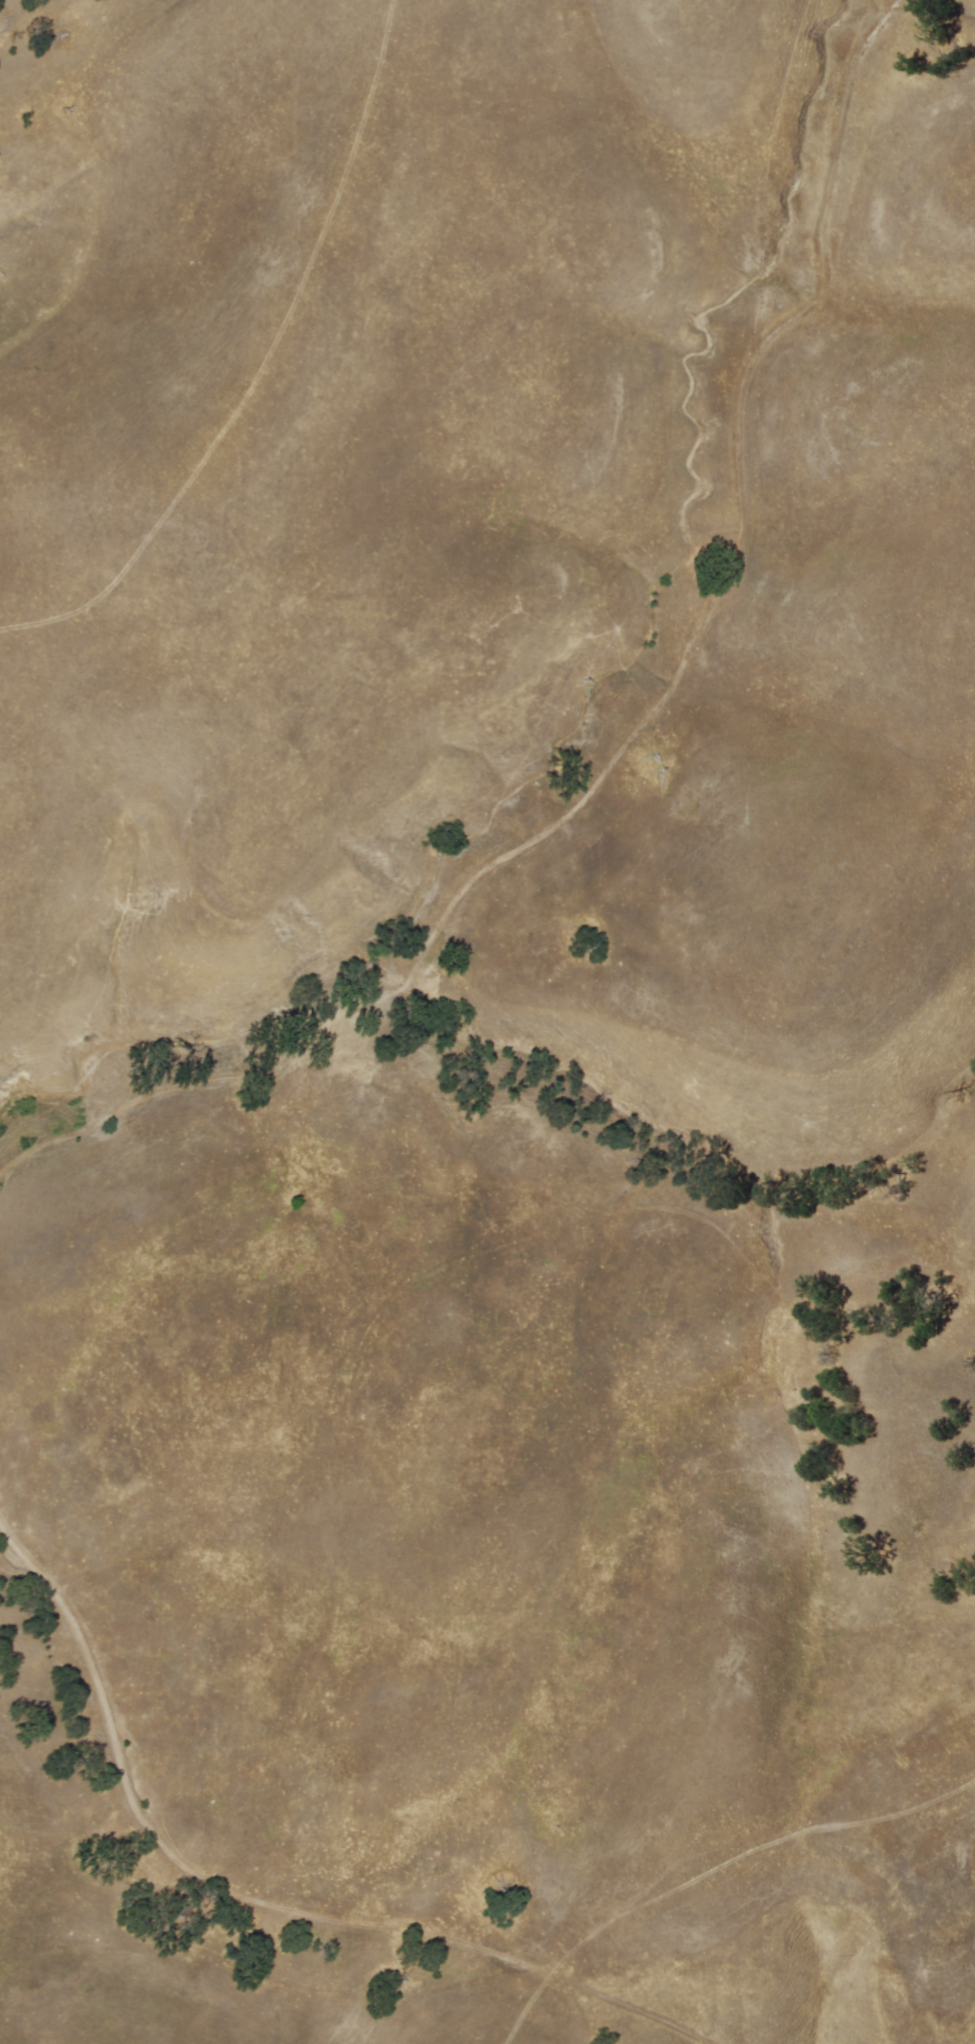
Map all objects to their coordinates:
road: (634, 726)

